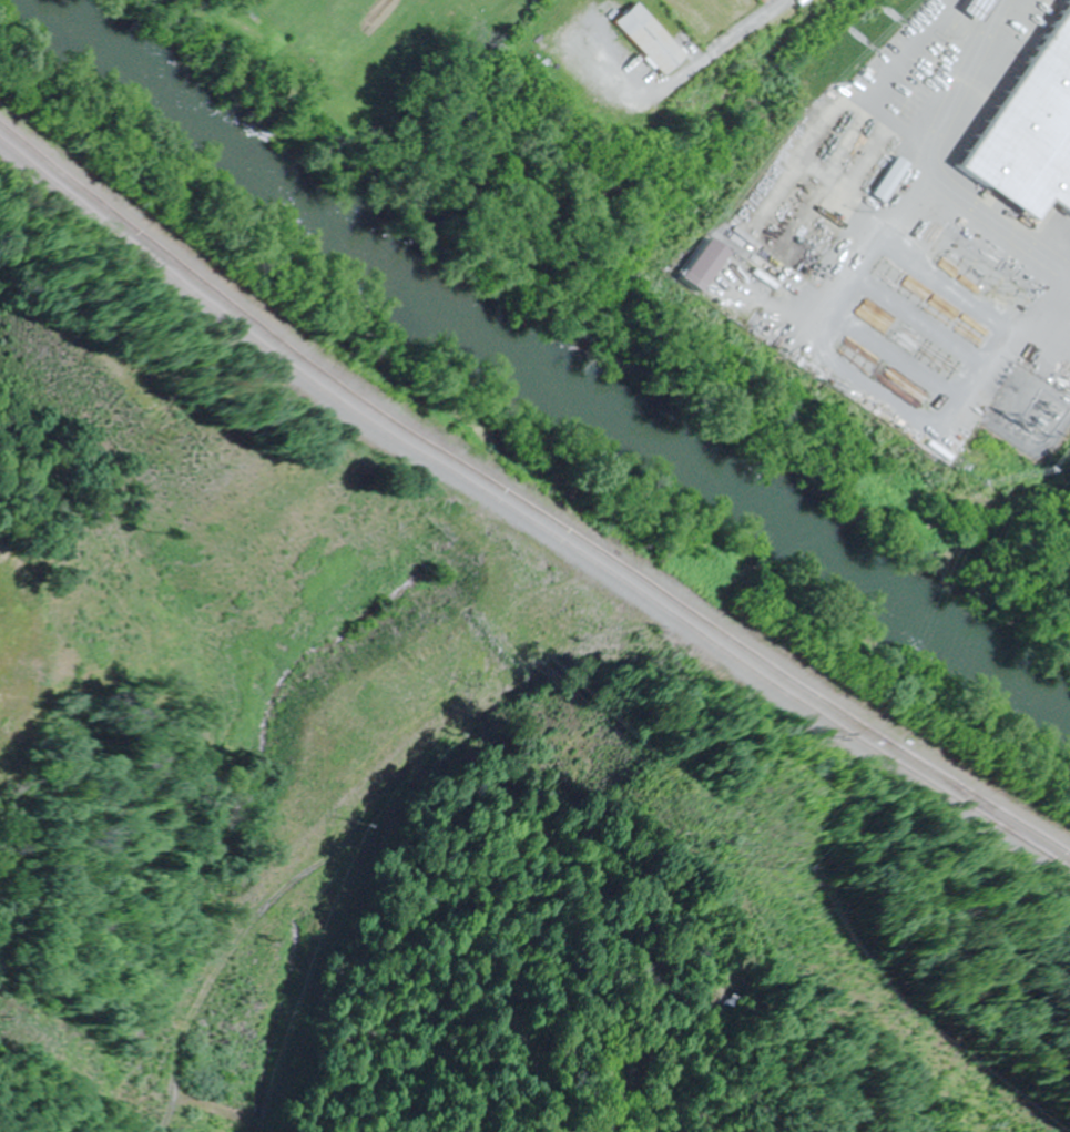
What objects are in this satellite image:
building: (967, 8)
building: (634, 40)
road: (716, 44)
road: (956, 74)
building: (1026, 129)
building: (685, 268)
river: (542, 375)
railway: (523, 510)

